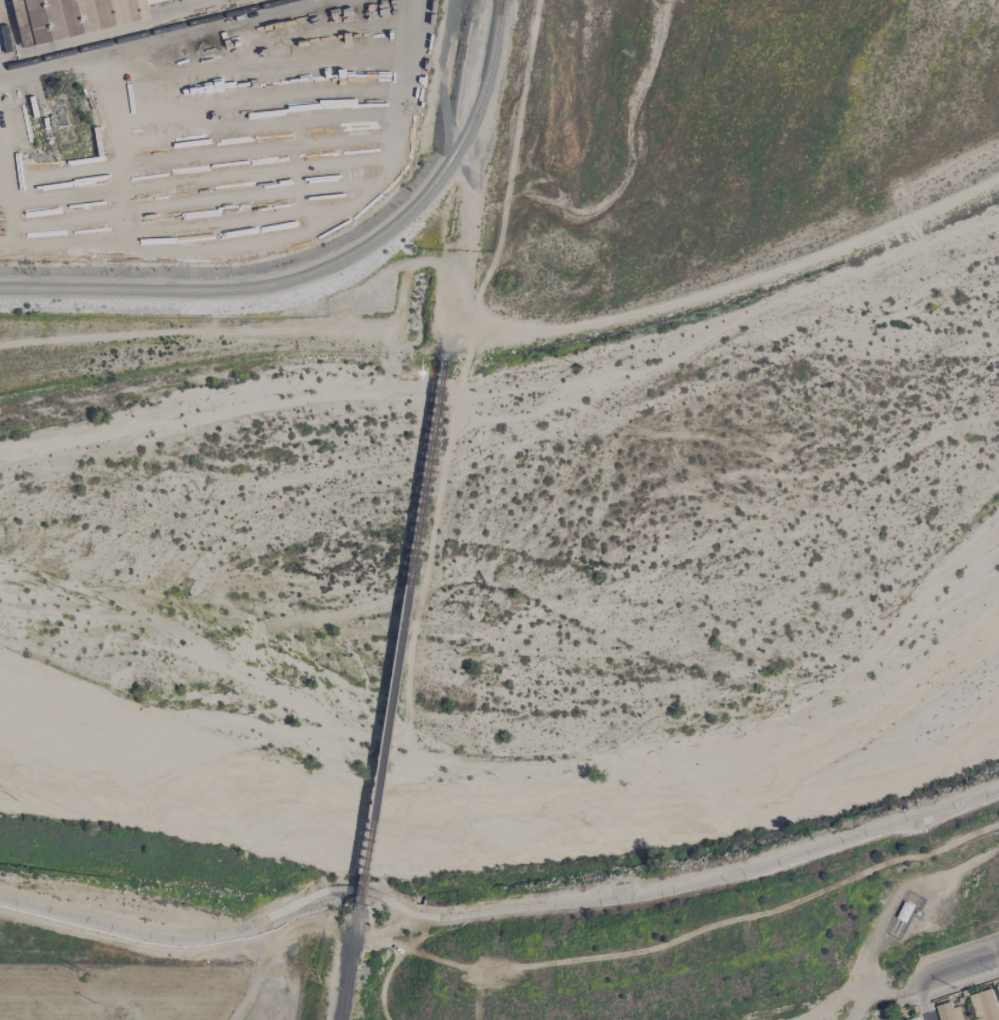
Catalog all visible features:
building: (73, 17)
railway: (157, 32)
building: (87, 38)
river: (507, 601)
road: (498, 911)
road: (958, 960)
railway: (347, 965)
road: (910, 978)
road: (921, 988)
building: (998, 988)
road: (837, 998)
building: (984, 1005)
road: (928, 1011)
building: (948, 1012)
building: (916, 1019)

